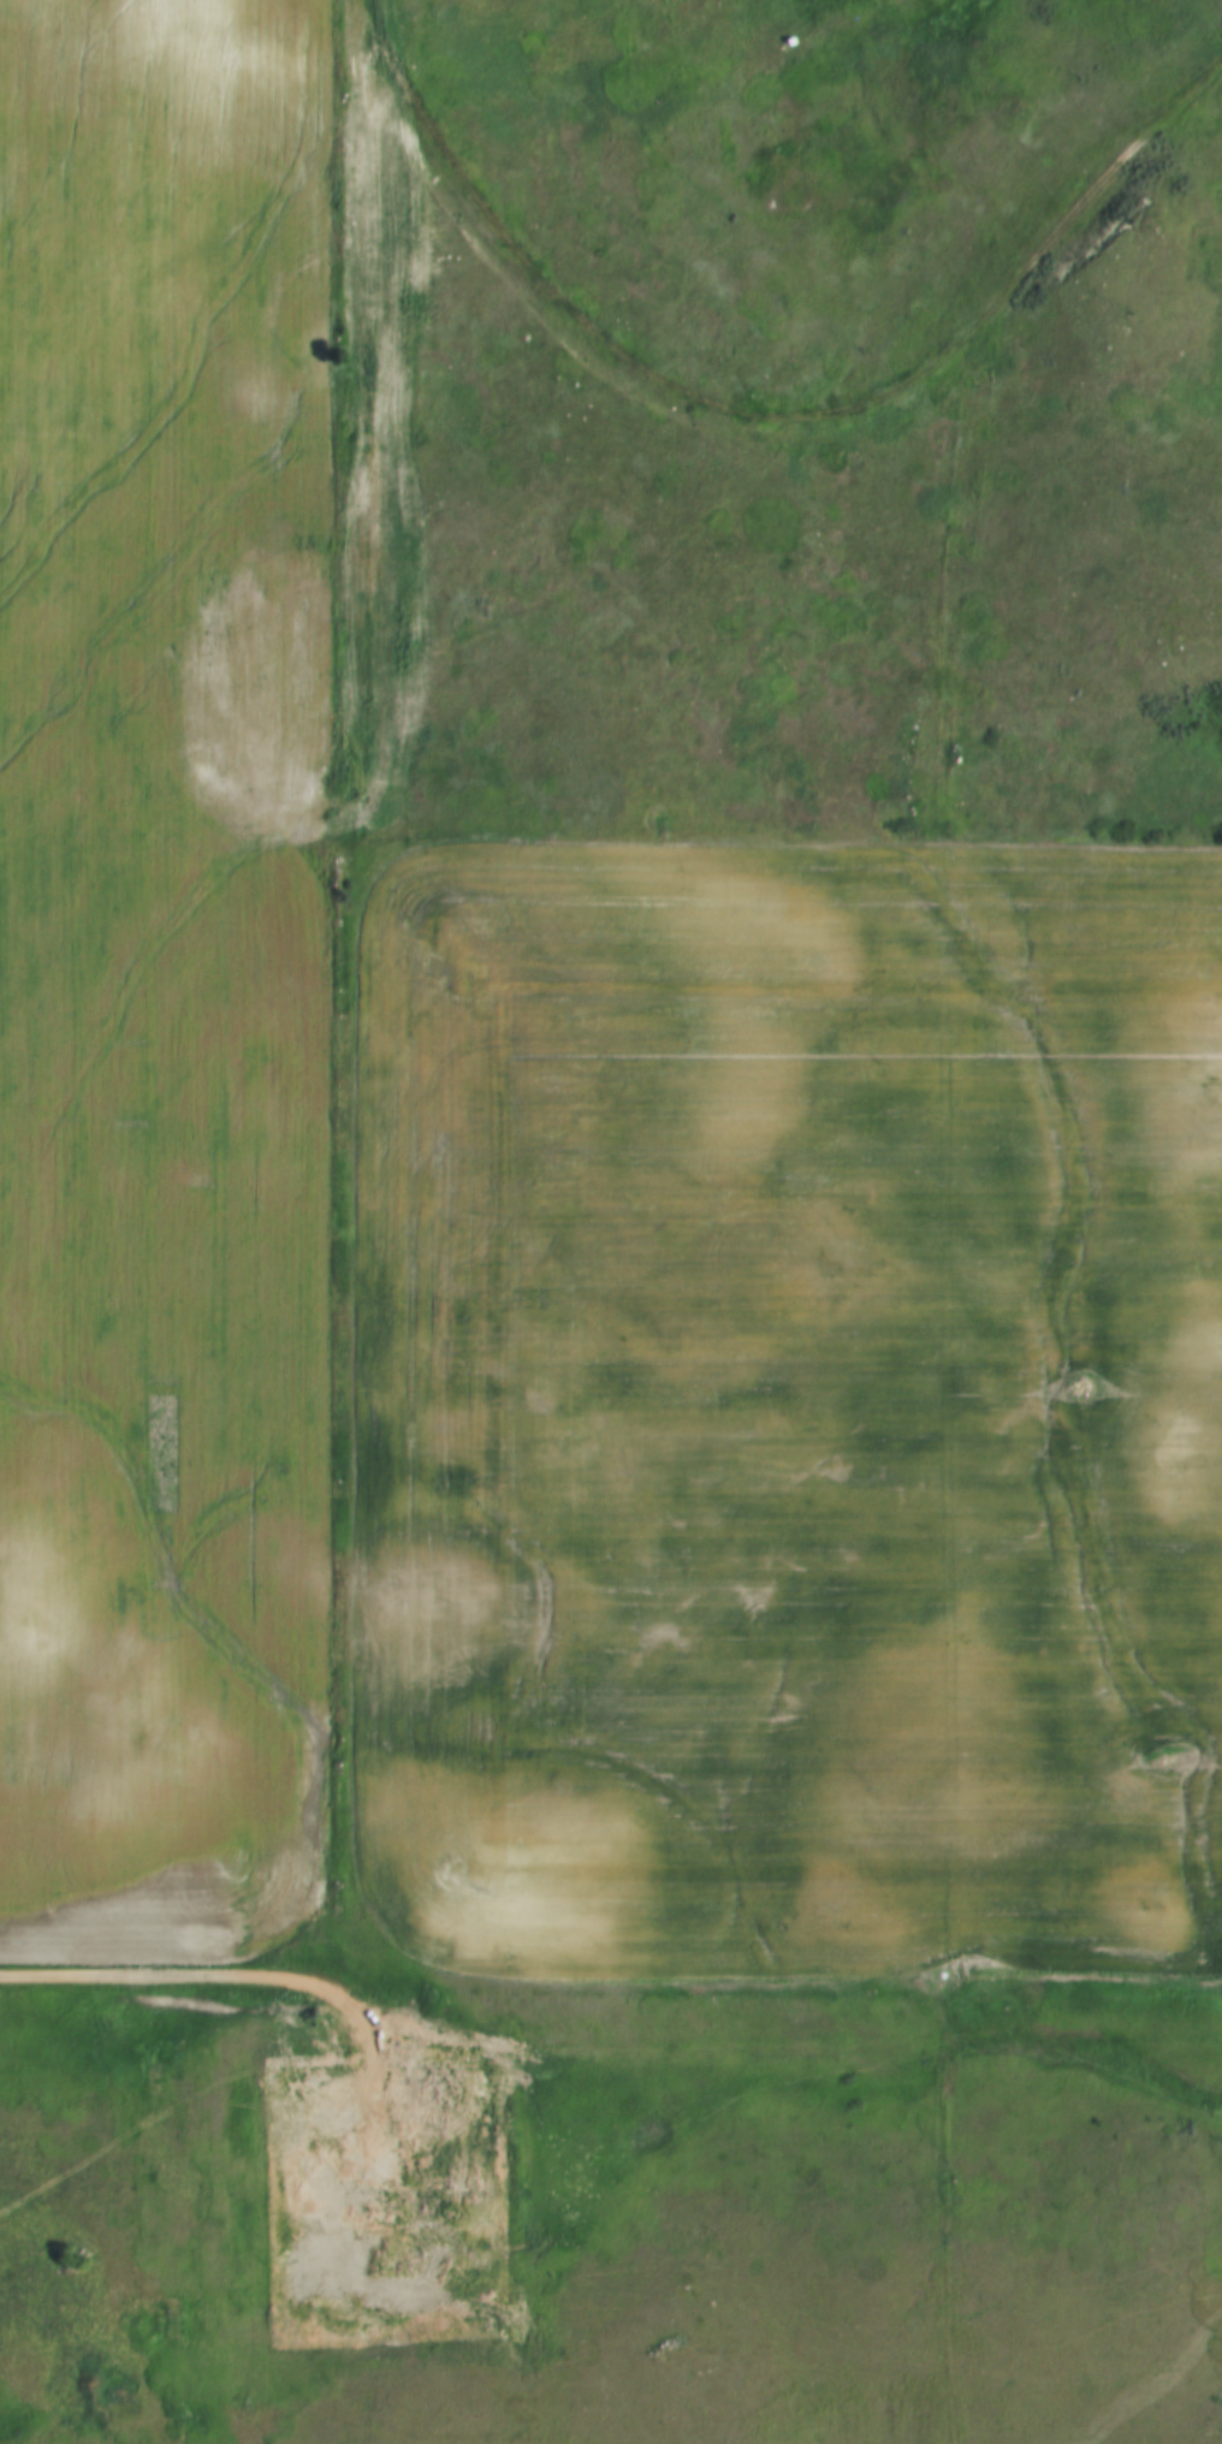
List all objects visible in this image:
road: (372, 481)
road: (307, 1989)
building: (438, 2066)
building: (411, 2102)
building: (410, 2122)
building: (427, 2131)
petroleum well: (308, 2163)
building: (437, 2194)
building: (420, 2195)
building: (459, 2197)

